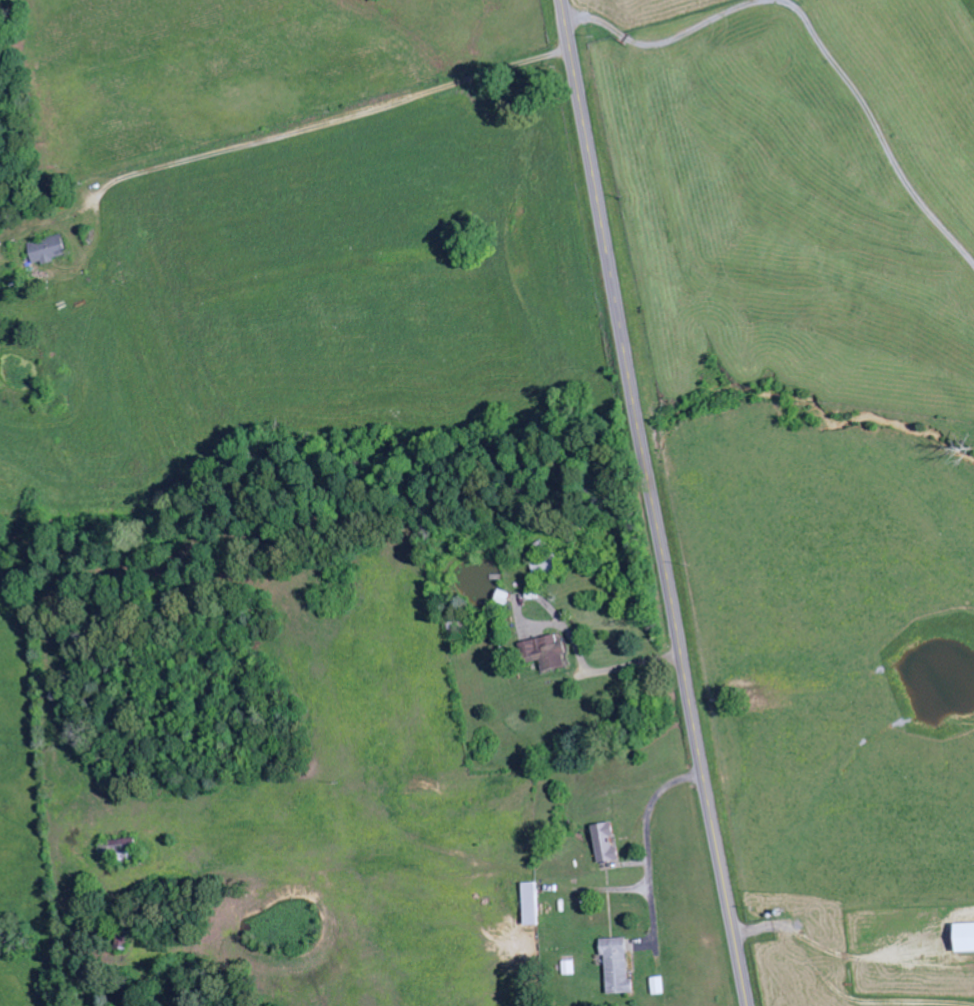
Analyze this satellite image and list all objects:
building: (48, 250)
road: (654, 503)
road: (823, 587)
building: (546, 654)
road: (418, 832)
building: (607, 842)
building: (122, 849)
building: (532, 904)
building: (618, 966)
building: (570, 968)
building: (660, 986)

